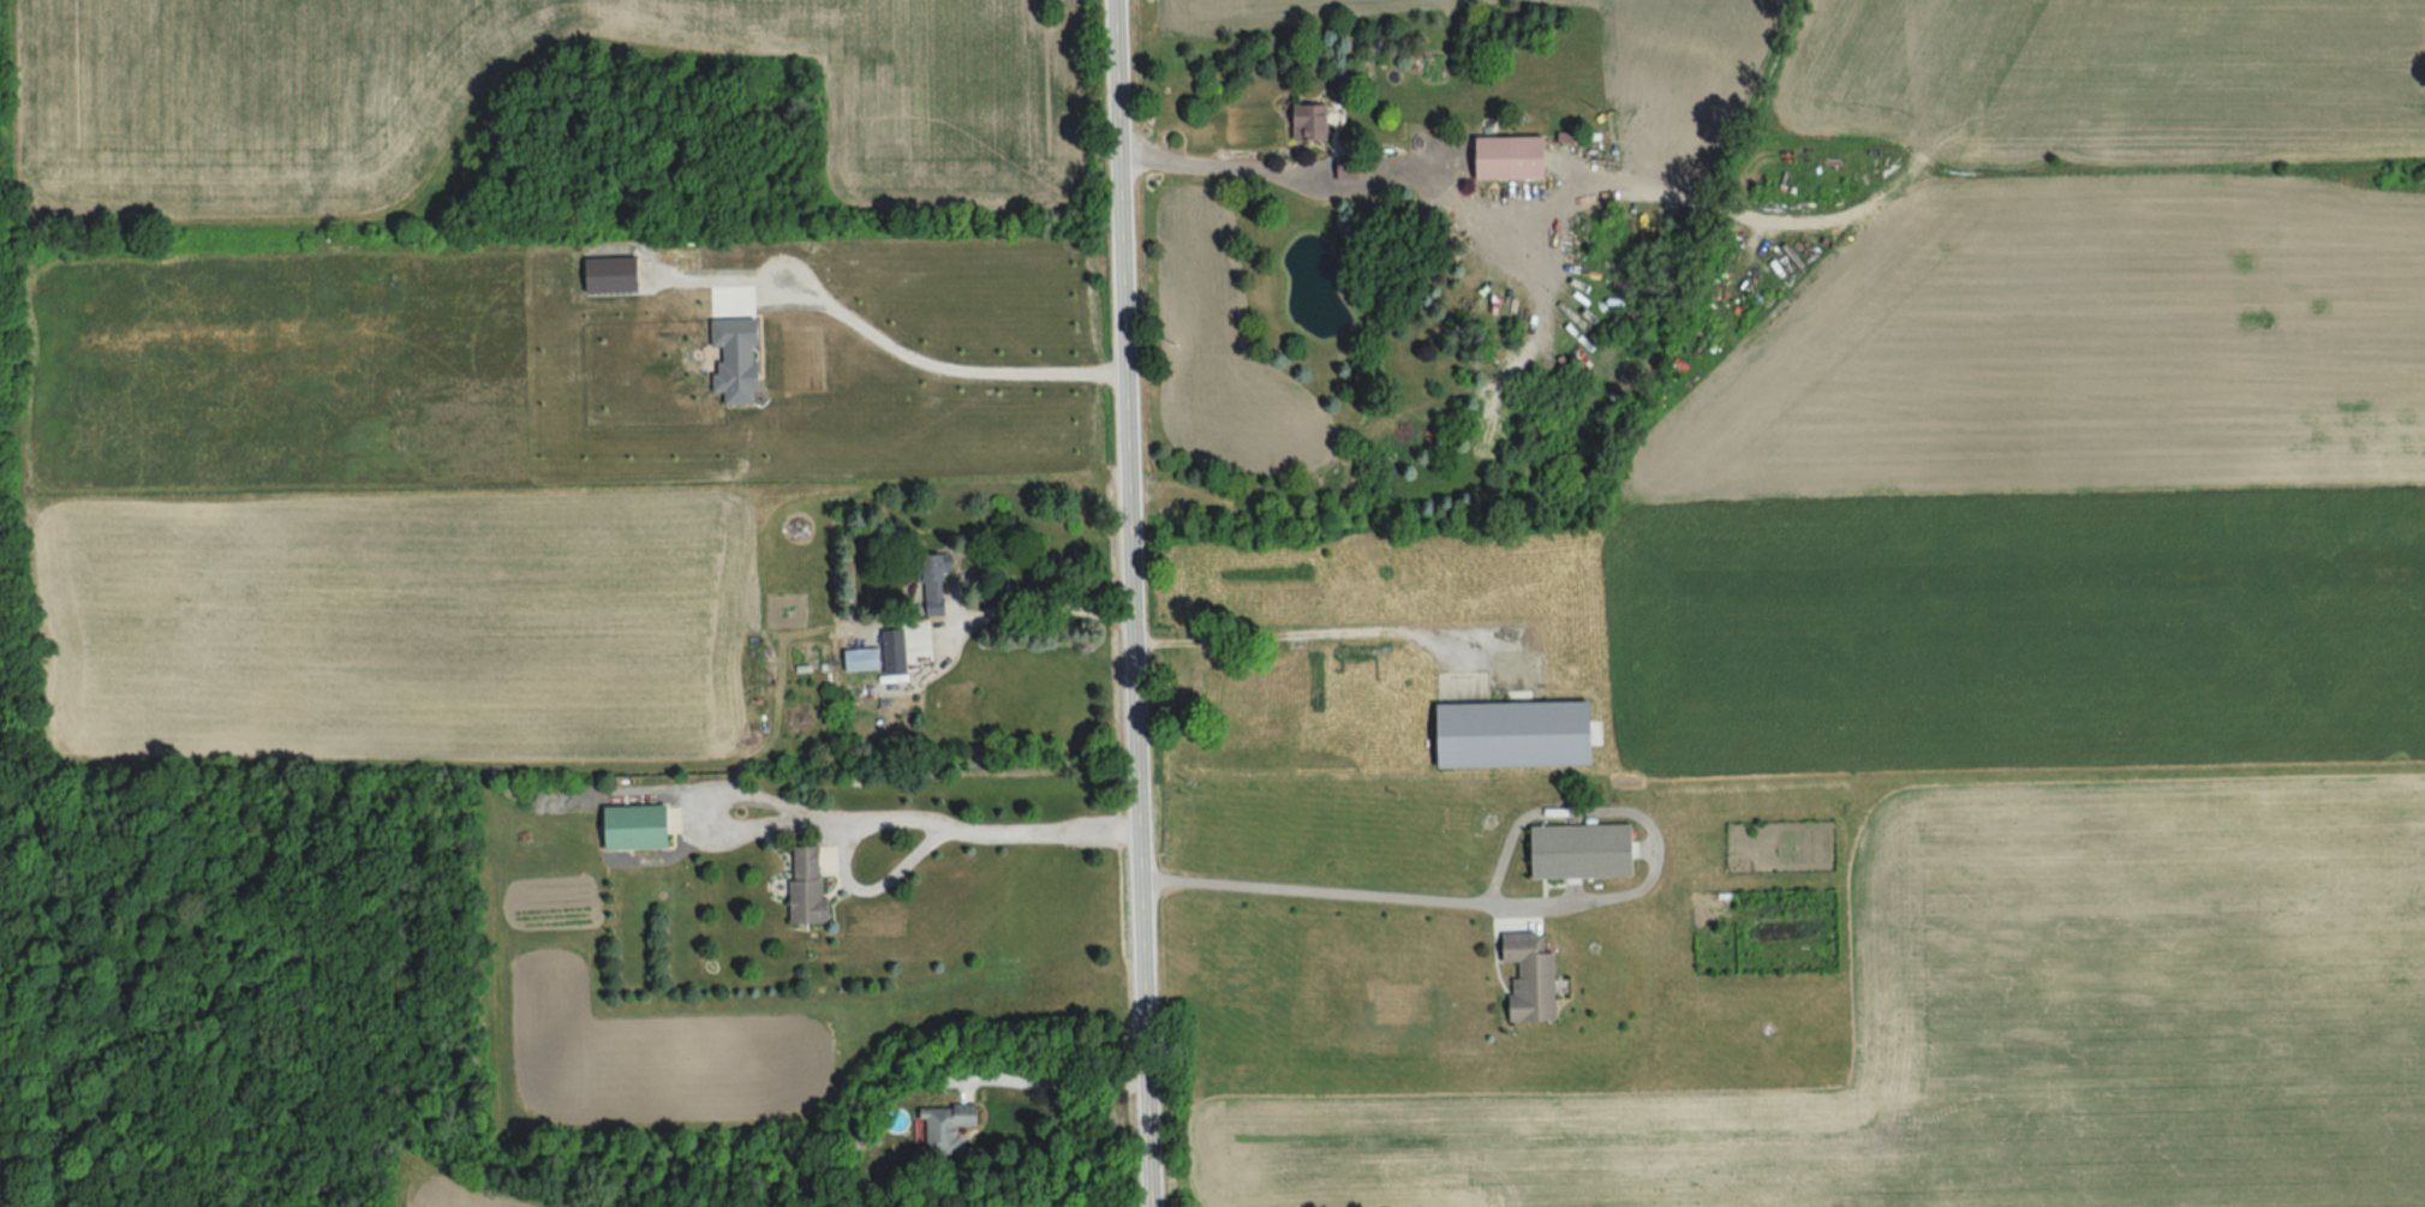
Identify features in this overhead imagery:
crop: (1678, 70)
crop: (2116, 76)
crop: (246, 106)
building: (1519, 157)
road: (1372, 185)
road: (906, 358)
road: (1050, 603)
road: (1129, 603)
crop: (396, 623)
road: (1290, 629)
building: (868, 661)
crop: (2029, 723)
building: (1521, 735)
building: (643, 827)
road: (1009, 832)
building: (1579, 850)
building: (812, 870)
road: (1337, 894)
building: (1534, 976)
road: (1057, 1087)

